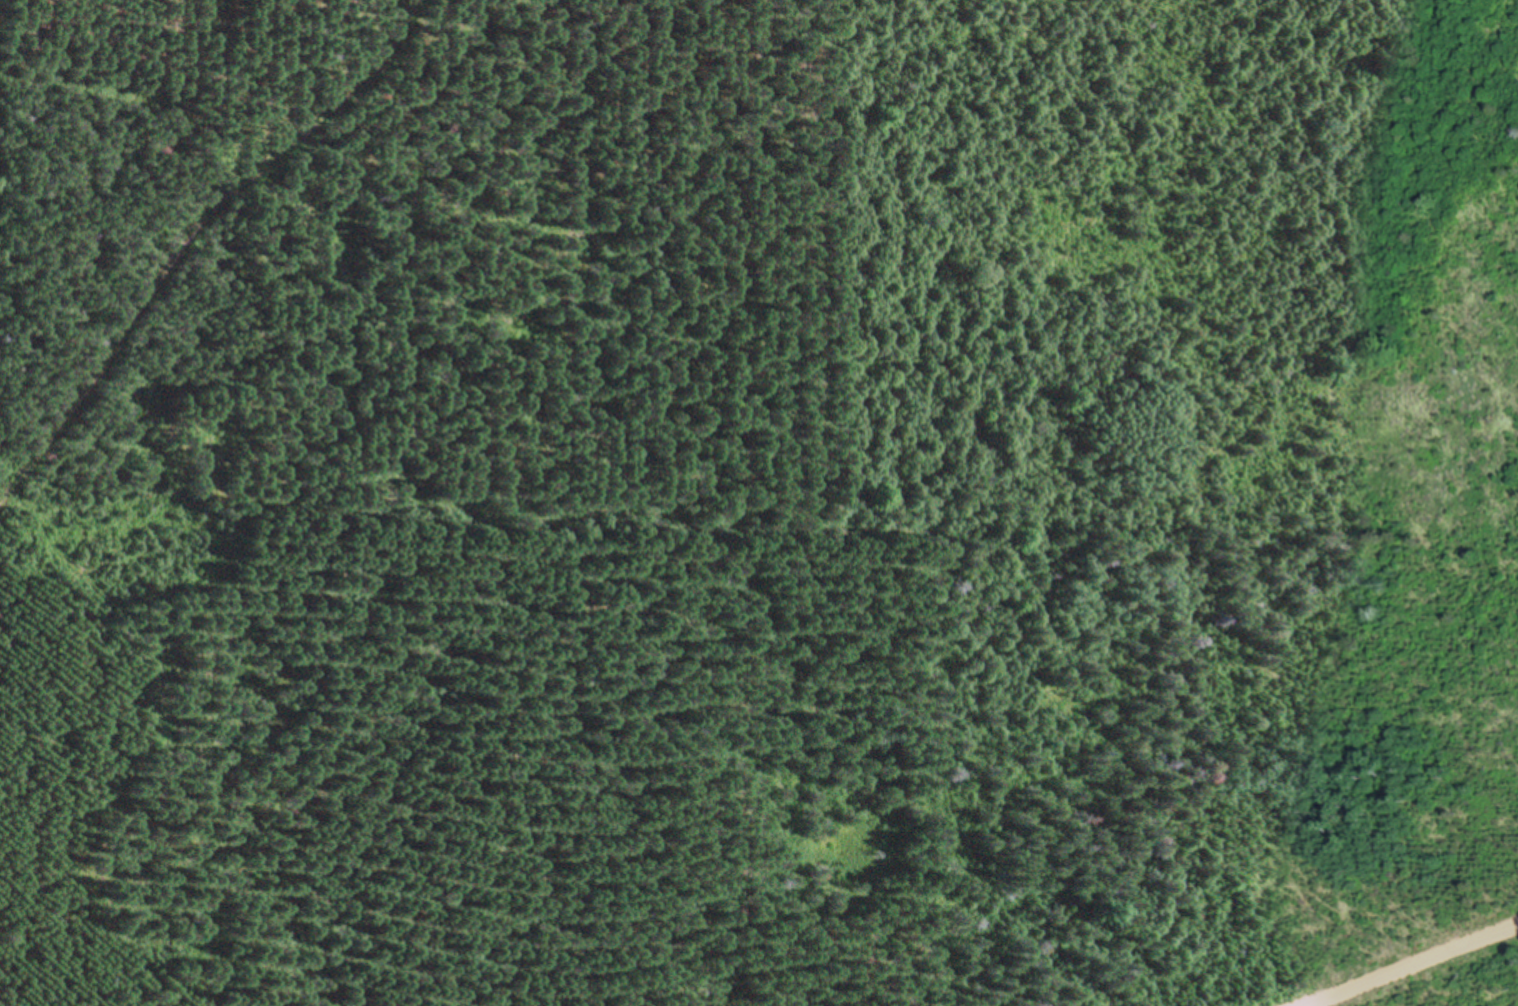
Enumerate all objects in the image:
road: (1418, 971)

